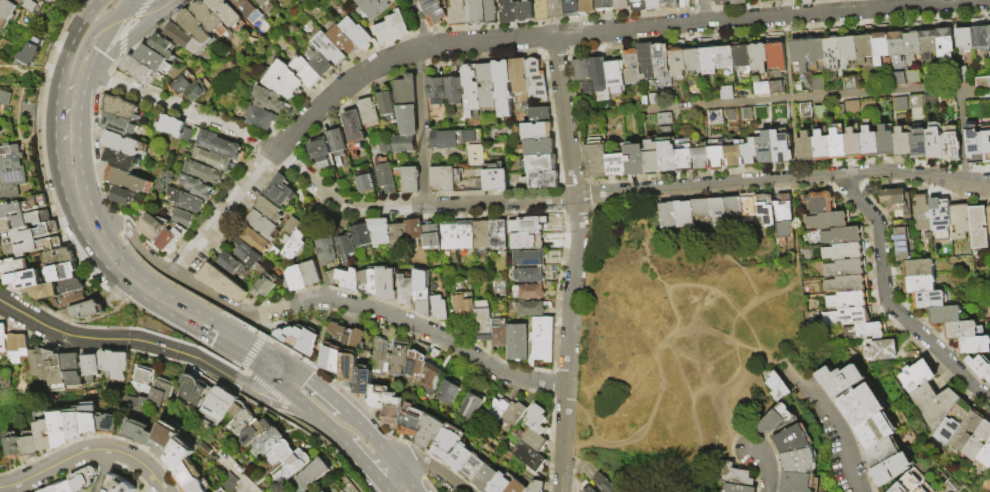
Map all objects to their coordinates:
building: (47, 1)
building: (53, 1)
building: (263, 2)
building: (360, 2)
building: (721, 2)
building: (738, 2)
building: (669, 4)
road: (761, 4)
building: (30, 5)
building: (604, 5)
building: (620, 5)
building: (637, 5)
building: (654, 5)
road: (125, 6)
building: (587, 6)
road: (146, 7)
building: (374, 7)
building: (8, 9)
building: (248, 9)
building: (541, 9)
building: (557, 9)
building: (433, 10)
building: (490, 11)
building: (515, 11)
road: (702, 11)
building: (227, 12)
building: (477, 13)
building: (458, 14)
building: (207, 15)
building: (4, 24)
building: (193, 26)
building: (390, 27)
building: (355, 32)
road: (536, 35)
building: (979, 35)
building: (988, 35)
building: (963, 37)
road: (131, 38)
building: (181, 38)
building: (340, 40)
road: (100, 42)
building: (927, 43)
building: (944, 43)
building: (896, 44)
building: (912, 44)
building: (163, 46)
building: (863, 47)
building: (879, 47)
building: (326, 48)
building: (846, 48)
road: (68, 49)
building: (30, 50)
building: (814, 51)
building: (831, 52)
road: (81, 54)
building: (740, 54)
building: (799, 54)
building: (774, 55)
building: (659, 56)
building: (724, 56)
building: (757, 56)
building: (691, 57)
building: (152, 58)
building: (644, 58)
building: (707, 59)
building: (316, 60)
building: (675, 60)
building: (629, 65)
building: (139, 69)
building: (303, 69)
building: (959, 71)
building: (596, 72)
building: (612, 72)
building: (580, 74)
traffic signals: (88, 75)
building: (912, 76)
building: (517, 77)
building: (896, 77)
road: (18, 78)
building: (534, 79)
building: (281, 80)
building: (981, 80)
building: (182, 83)
building: (849, 83)
building: (485, 84)
building: (816, 84)
building: (774, 86)
building: (451, 87)
building: (468, 87)
building: (501, 87)
building: (759, 87)
building: (433, 89)
building: (196, 90)
building: (725, 91)
road: (800, 97)
building: (6, 98)
building: (928, 98)
building: (267, 99)
building: (914, 99)
road: (420, 102)
building: (897, 102)
building: (404, 104)
building: (385, 105)
building: (866, 105)
building: (850, 106)
building: (121, 108)
building: (803, 109)
building: (838, 109)
building: (366, 110)
building: (777, 110)
building: (819, 111)
building: (759, 112)
building: (744, 113)
building: (538, 114)
building: (729, 114)
road: (563, 116)
building: (259, 117)
building: (118, 125)
building: (168, 125)
building: (352, 129)
building: (535, 130)
road: (54, 134)
building: (449, 137)
building: (884, 140)
road: (962, 140)
building: (664, 141)
building: (868, 141)
building: (900, 141)
building: (917, 142)
building: (932, 142)
building: (852, 143)
building: (123, 144)
building: (334, 144)
building: (396, 144)
building: (836, 144)
building: (218, 145)
building: (820, 145)
building: (950, 145)
building: (538, 146)
building: (779, 146)
building: (804, 146)
building: (763, 147)
building: (986, 148)
building: (747, 149)
building: (318, 151)
building: (974, 151)
building: (682, 152)
building: (731, 153)
building: (473, 154)
building: (650, 155)
building: (715, 155)
building: (593, 156)
building: (698, 156)
building: (632, 158)
building: (120, 159)
building: (211, 160)
building: (540, 162)
building: (614, 163)
building: (13, 166)
building: (199, 171)
road: (914, 173)
building: (383, 177)
building: (441, 177)
building: (542, 178)
building: (406, 179)
building: (494, 179)
building: (127, 180)
building: (364, 183)
road: (321, 185)
road: (705, 185)
building: (195, 187)
building: (278, 190)
building: (122, 196)
building: (185, 200)
building: (819, 201)
building: (896, 201)
building: (764, 203)
building: (748, 204)
building: (732, 205)
building: (716, 207)
building: (699, 208)
building: (266, 209)
building: (9, 212)
building: (989, 213)
building: (683, 214)
building: (923, 214)
building: (667, 215)
building: (942, 215)
building: (180, 217)
building: (782, 217)
building: (828, 220)
road: (305, 222)
building: (962, 222)
building: (259, 223)
building: (525, 224)
building: (150, 226)
building: (411, 228)
building: (980, 229)
building: (377, 230)
building: (396, 233)
building: (496, 233)
building: (428, 234)
building: (464, 234)
building: (843, 234)
building: (360, 235)
building: (447, 235)
building: (480, 237)
building: (167, 238)
building: (249, 238)
building: (524, 240)
building: (50, 241)
building: (293, 242)
road: (136, 243)
building: (343, 243)
building: (903, 245)
building: (0, 246)
building: (325, 248)
road: (693, 249)
building: (844, 251)
building: (243, 253)
building: (527, 256)
road: (121, 257)
building: (60, 258)
building: (227, 263)
building: (14, 267)
building: (846, 268)
building: (919, 269)
building: (309, 271)
building: (63, 273)
building: (527, 274)
building: (293, 277)
building: (347, 278)
building: (25, 280)
building: (368, 280)
building: (220, 282)
building: (385, 283)
building: (262, 284)
building: (846, 284)
building: (920, 285)
building: (72, 286)
road: (704, 287)
building: (402, 289)
building: (419, 289)
building: (528, 291)
building: (43, 292)
road: (136, 294)
road: (897, 298)
road: (887, 299)
building: (848, 300)
building: (931, 300)
building: (74, 301)
building: (438, 307)
building: (457, 307)
building: (528, 307)
building: (88, 311)
road: (372, 311)
building: (467, 311)
building: (846, 316)
building: (946, 316)
building: (482, 323)
road: (730, 325)
building: (864, 331)
building: (962, 331)
building: (344, 333)
building: (498, 334)
road: (118, 338)
building: (298, 338)
building: (540, 338)
park: (675, 340)
building: (3, 341)
building: (515, 341)
road: (740, 343)
road: (566, 345)
building: (379, 346)
traffic signals: (167, 347)
building: (975, 347)
building: (18, 348)
building: (881, 349)
building: (396, 355)
building: (329, 357)
building: (108, 361)
traffic signals: (284, 361)
building: (38, 363)
building: (345, 363)
building: (413, 363)
building: (91, 366)
building: (122, 366)
road: (293, 367)
building: (980, 368)
road: (278, 369)
building: (72, 371)
building: (55, 372)
building: (427, 375)
building: (916, 376)
traffic signals: (273, 378)
building: (839, 379)
building: (145, 380)
building: (359, 380)
building: (774, 381)
building: (197, 388)
road: (255, 388)
building: (446, 390)
building: (164, 393)
building: (781, 393)
road: (327, 394)
road: (658, 395)
building: (383, 403)
building: (933, 403)
building: (468, 404)
road: (618, 404)
building: (859, 404)
building: (140, 405)
building: (219, 405)
road: (284, 408)
building: (238, 409)
building: (493, 409)
road: (310, 411)
building: (511, 412)
road: (696, 413)
building: (535, 418)
building: (409, 419)
road: (730, 419)
building: (776, 419)
road: (282, 420)
building: (951, 421)
building: (244, 423)
building: (94, 425)
building: (111, 425)
building: (77, 426)
road: (589, 426)
road: (849, 426)
road: (308, 429)
building: (61, 430)
building: (258, 430)
building: (874, 430)
building: (964, 431)
building: (427, 432)
road: (840, 432)
building: (142, 433)
building: (46, 436)
building: (169, 439)
road: (374, 439)
building: (531, 439)
building: (272, 440)
building: (793, 440)
building: (976, 441)
building: (443, 443)
building: (31, 445)
building: (14, 446)
road: (575, 448)
road: (88, 453)
building: (282, 454)
building: (984, 454)
building: (182, 455)
building: (527, 456)
building: (457, 457)
building: (799, 461)
building: (885, 461)
road: (363, 463)
building: (296, 466)
road: (769, 466)
building: (470, 467)
road: (432, 468)
road: (103, 471)
road: (233, 471)
road: (387, 473)
building: (315, 474)
building: (190, 475)
building: (736, 475)
building: (483, 477)
road: (406, 478)
building: (85, 479)
building: (908, 481)
building: (796, 482)
building: (497, 483)
park: (980, 483)
building: (603, 484)
building: (119, 485)
road: (382, 486)
building: (514, 486)
building: (534, 486)
building: (65, 487)
building: (201, 487)
building: (738, 488)
building: (922, 488)
building: (49, 490)
building: (589, 490)
building: (324, 491)

